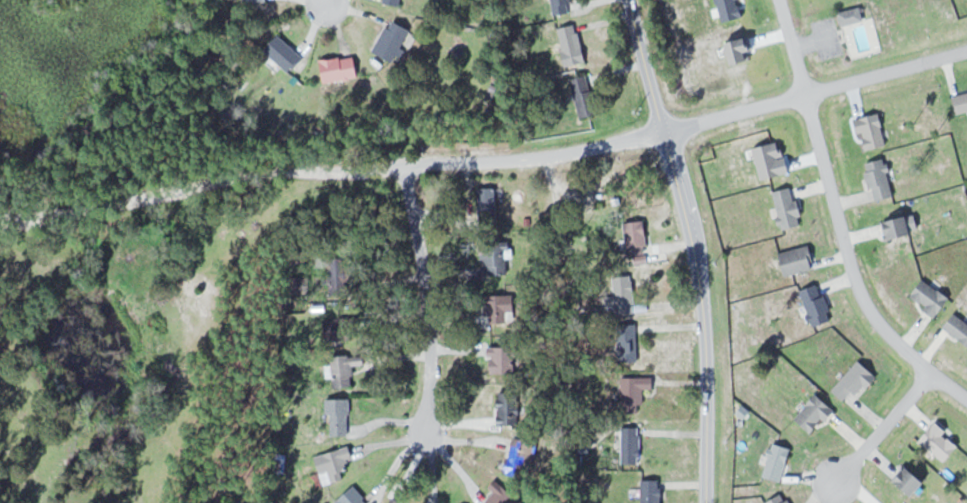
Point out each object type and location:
road: (326, 1)
building: (393, 2)
building: (561, 6)
building: (393, 40)
road: (814, 41)
building: (572, 43)
building: (285, 53)
building: (339, 68)
road: (816, 90)
building: (585, 95)
road: (333, 175)
building: (488, 202)
road: (839, 219)
building: (637, 234)
road: (693, 247)
building: (497, 257)
building: (340, 276)
building: (626, 295)
road: (426, 299)
building: (501, 308)
building: (340, 328)
building: (628, 342)
building: (503, 359)
building: (346, 369)
building: (636, 389)
building: (509, 407)
building: (340, 416)
road: (883, 425)
building: (632, 445)
building: (522, 456)
building: (334, 464)
building: (652, 491)
building: (503, 494)
building: (354, 497)
building: (396, 500)

